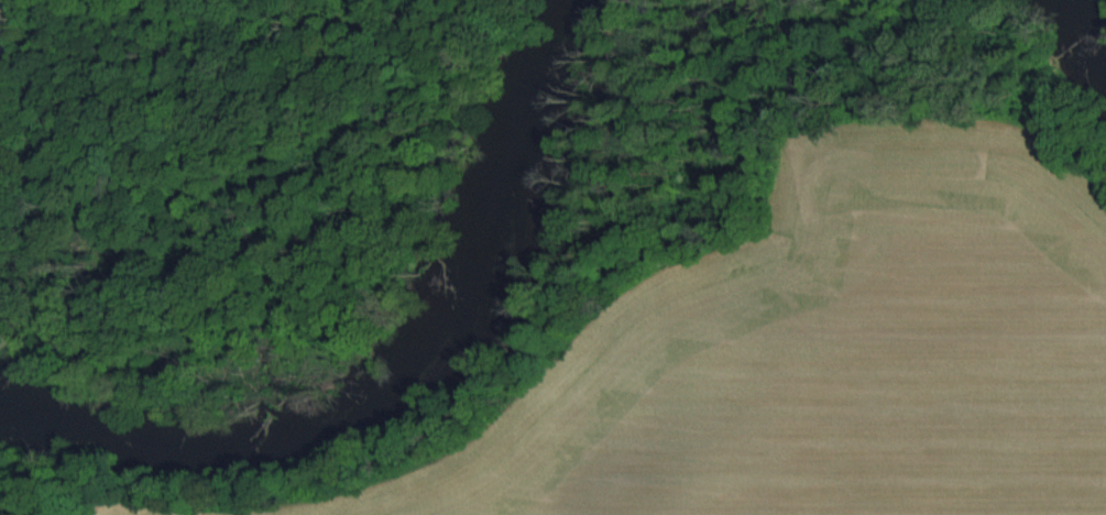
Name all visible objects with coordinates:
river: (1085, 25)
river: (402, 371)

